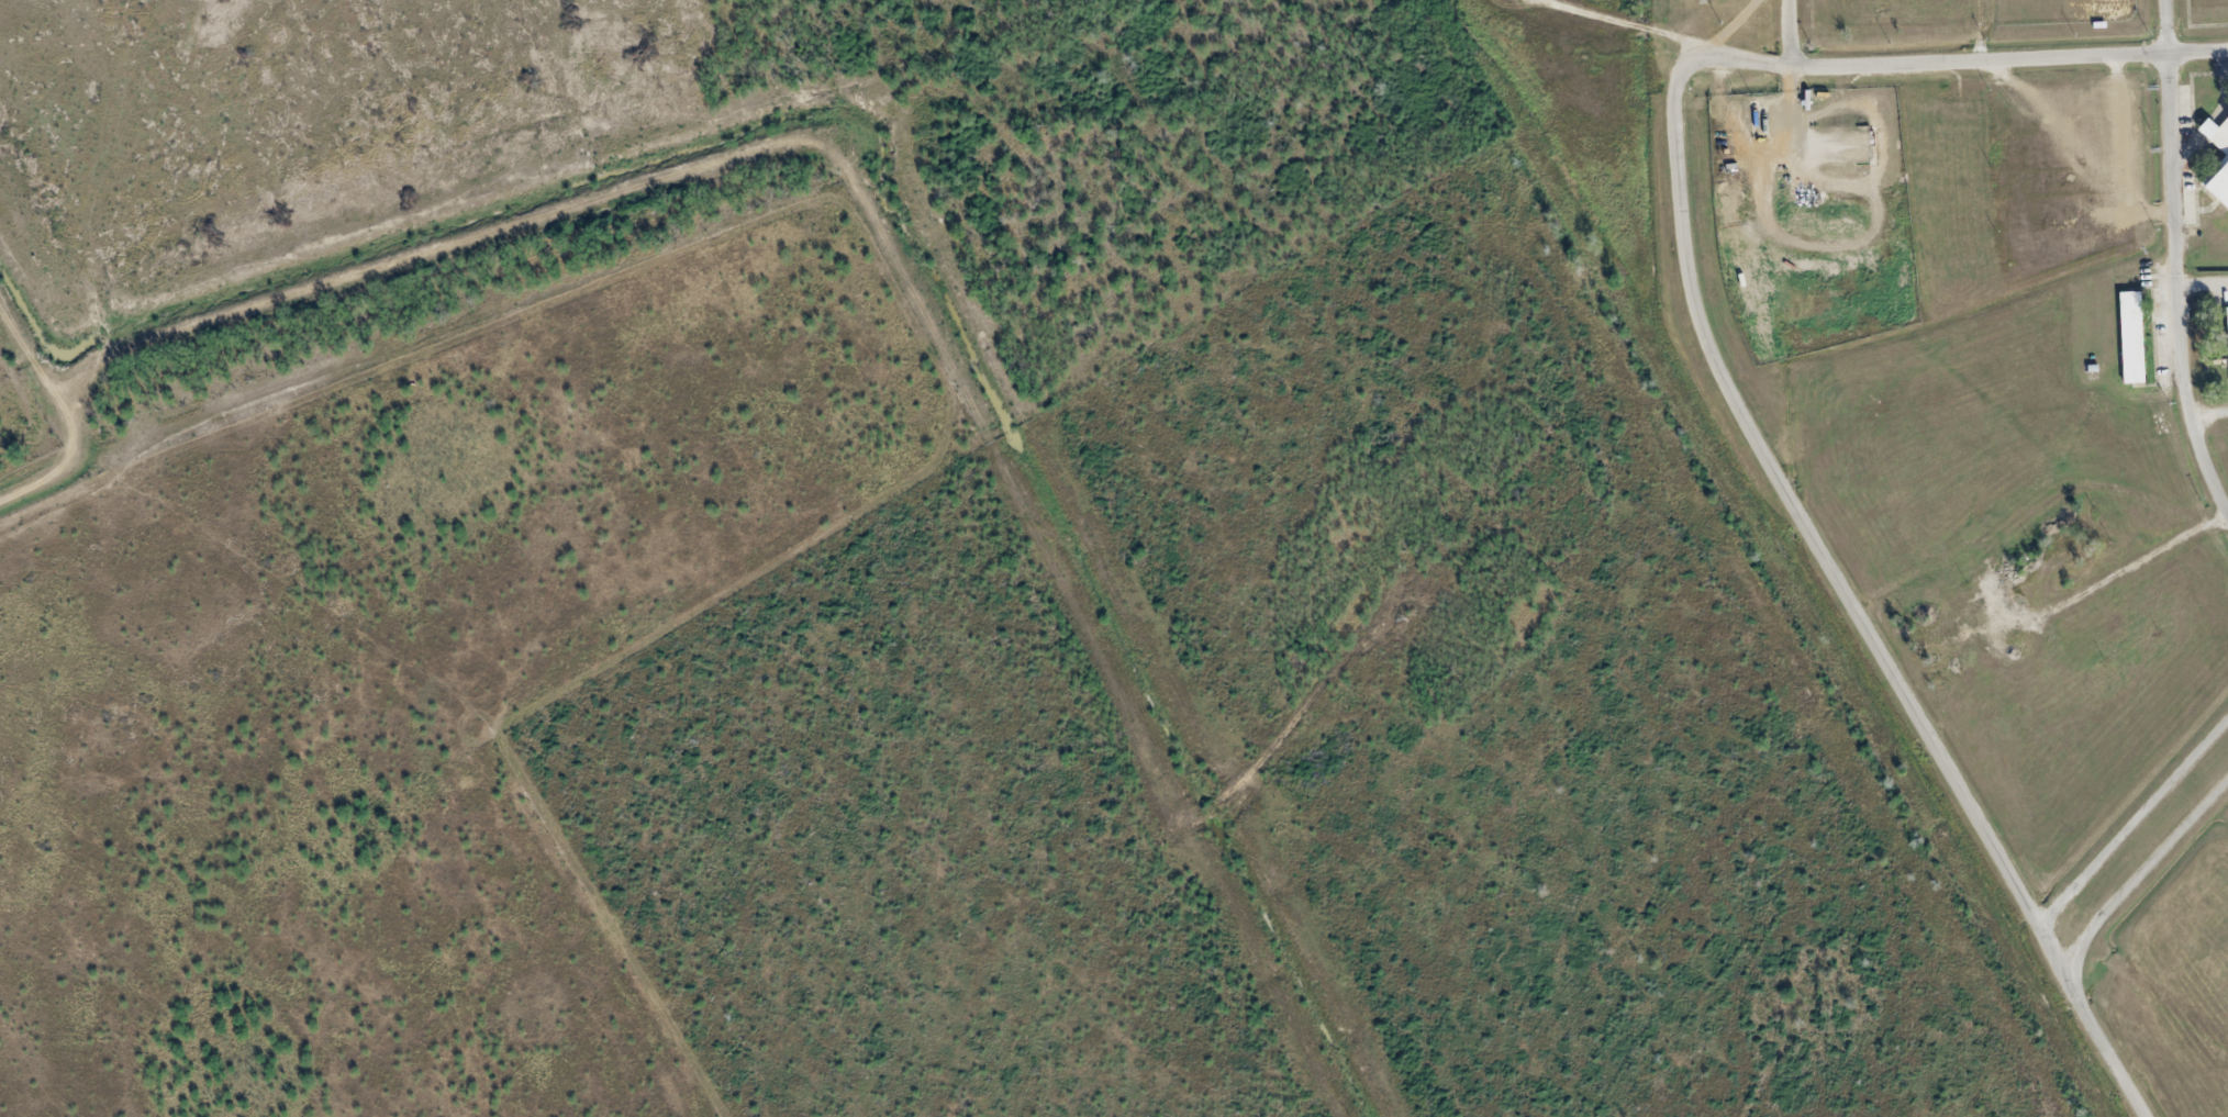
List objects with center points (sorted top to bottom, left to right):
road: (1635, 26)
road: (1791, 33)
road: (1969, 60)
building: (2219, 170)
road: (864, 193)
road: (2176, 260)
building: (2226, 325)
building: (2130, 337)
road: (2143, 559)
road: (1846, 594)
road: (2131, 820)
road: (2141, 873)

